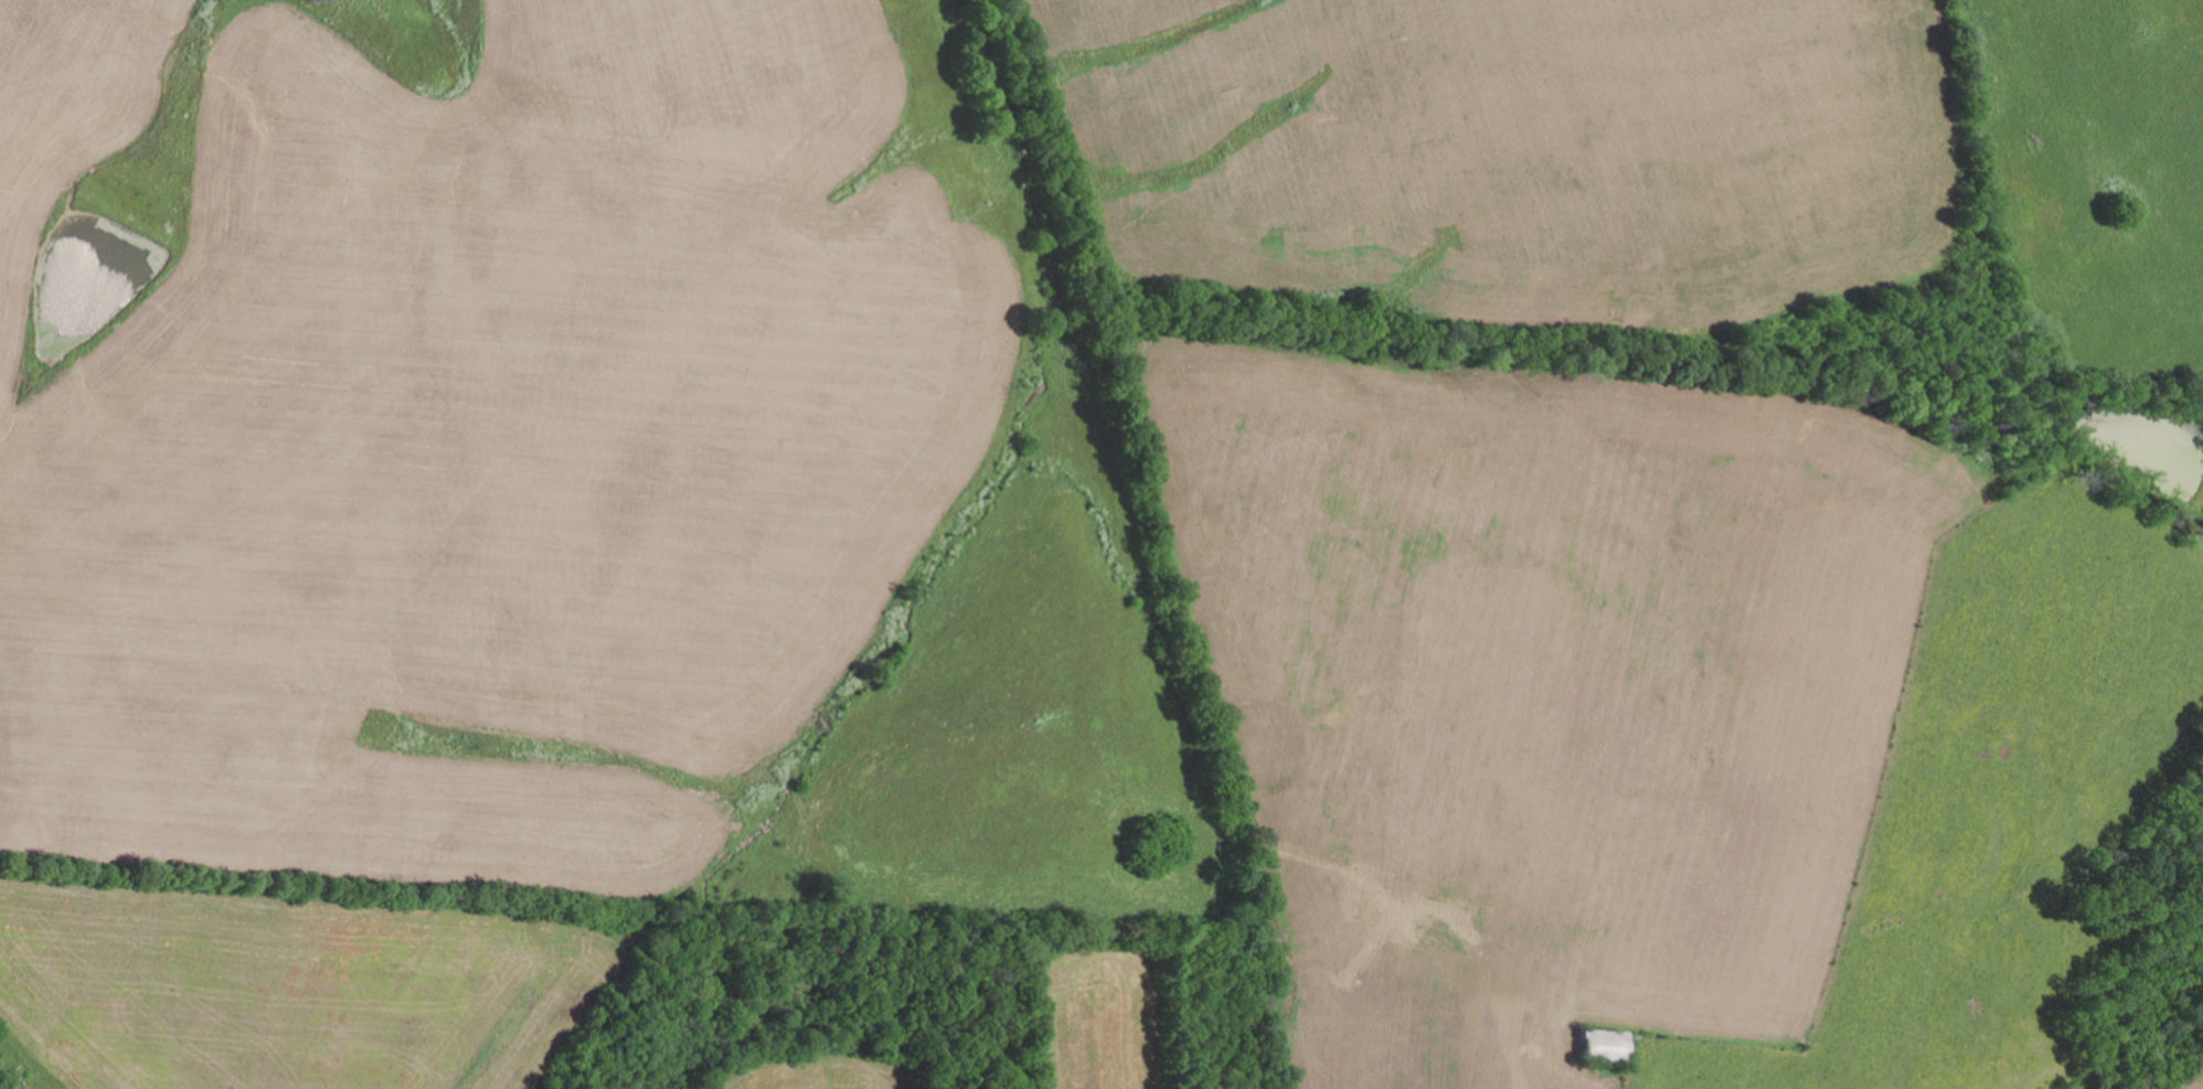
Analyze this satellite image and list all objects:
building: (1610, 1045)

